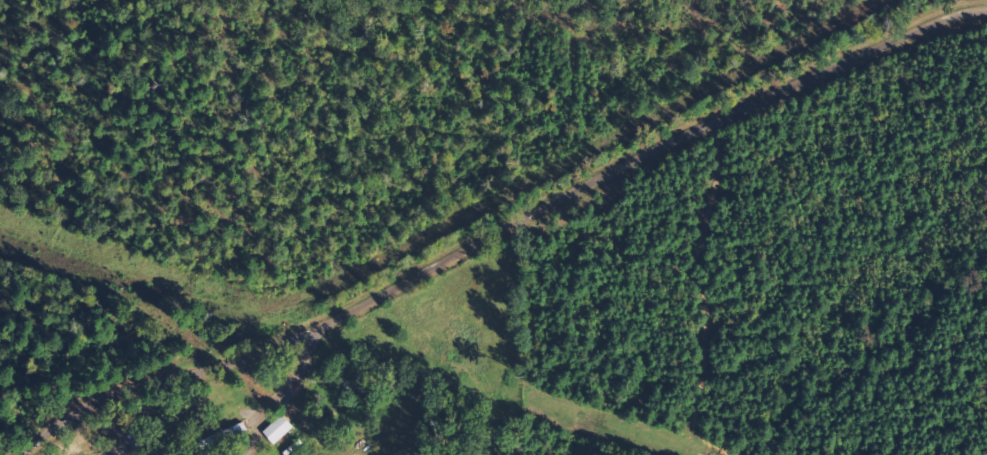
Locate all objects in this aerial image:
road: (513, 231)
building: (282, 430)

